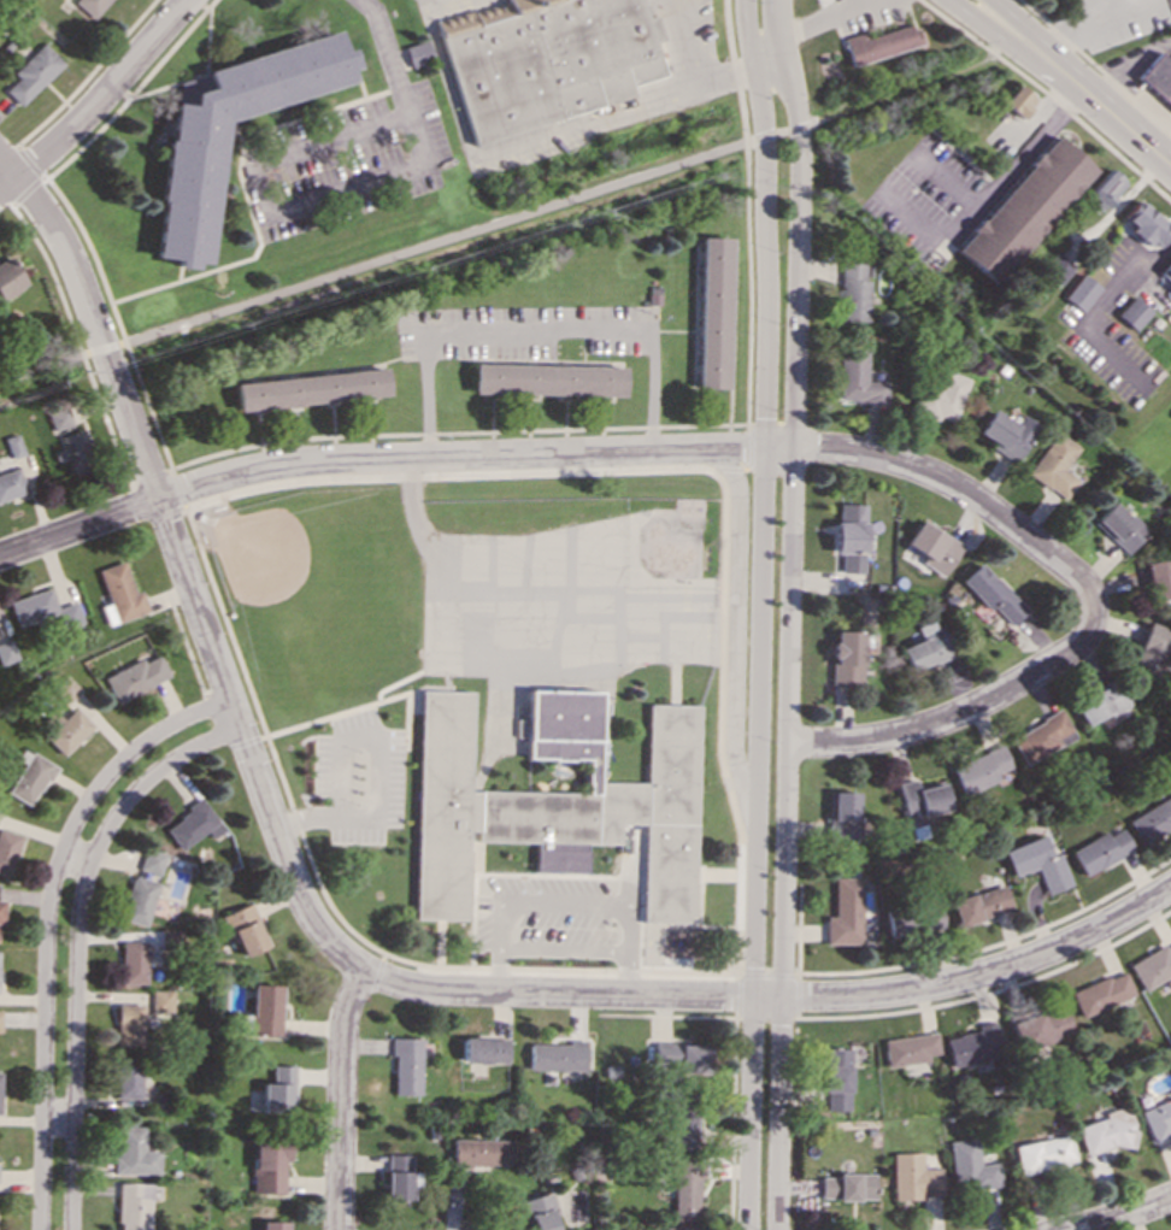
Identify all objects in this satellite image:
building: (89, 6)
park: (1037, 7)
road: (824, 18)
road: (1006, 20)
road: (983, 22)
road: (1064, 28)
building: (879, 43)
road: (390, 54)
building: (416, 54)
road: (769, 54)
building: (545, 59)
road: (1128, 65)
road: (1095, 66)
road: (735, 70)
building: (31, 72)
road: (684, 75)
building: (1158, 76)
road: (446, 77)
road: (912, 88)
road: (1048, 96)
road: (99, 100)
building: (1017, 101)
road: (1098, 104)
road: (583, 129)
road: (1001, 177)
building: (187, 188)
building: (1105, 188)
building: (1023, 210)
road: (69, 211)
road: (269, 211)
building: (1146, 224)
road: (399, 255)
building: (1167, 266)
building: (1054, 267)
building: (8, 277)
road: (748, 284)
building: (853, 290)
building: (1078, 292)
building: (712, 312)
road: (1093, 312)
building: (1130, 313)
road: (536, 329)
road: (75, 335)
building: (1170, 363)
building: (855, 378)
building: (546, 379)
building: (308, 389)
building: (940, 394)
building: (58, 418)
road: (453, 432)
building: (1006, 434)
building: (12, 446)
road: (749, 446)
building: (75, 452)
road: (571, 454)
building: (1054, 465)
road: (743, 466)
road: (726, 467)
road: (148, 476)
building: (10, 483)
road: (178, 507)
building: (1118, 526)
building: (848, 536)
building: (930, 547)
building: (1159, 577)
building: (118, 593)
building: (990, 593)
building: (42, 610)
road: (760, 613)
road: (790, 613)
road: (735, 626)
building: (924, 647)
building: (1151, 651)
building: (6, 652)
building: (845, 657)
building: (134, 677)
building: (64, 689)
building: (1101, 701)
road: (955, 716)
building: (66, 730)
building: (1041, 736)
road: (351, 737)
building: (978, 769)
building: (29, 778)
building: (554, 801)
building: (918, 801)
building: (842, 814)
building: (1151, 819)
building: (192, 824)
building: (7, 849)
building: (1098, 851)
building: (151, 860)
building: (1035, 863)
building: (139, 901)
road: (569, 901)
building: (978, 905)
building: (0, 907)
building: (843, 912)
building: (926, 918)
building: (892, 922)
road: (48, 923)
road: (798, 928)
building: (245, 930)
building: (170, 938)
road: (78, 942)
road: (989, 944)
road: (337, 948)
building: (134, 963)
building: (1151, 965)
road: (764, 975)
building: (1099, 993)
building: (160, 1000)
building: (265, 1010)
building: (0, 1019)
building: (128, 1024)
building: (1038, 1028)
building: (972, 1046)
building: (908, 1048)
building: (483, 1049)
building: (557, 1055)
building: (679, 1057)
building: (406, 1066)
building: (128, 1077)
building: (836, 1077)
building: (0, 1090)
building: (277, 1090)
road: (341, 1096)
building: (1158, 1119)
building: (682, 1122)
building: (1104, 1131)
building: (133, 1152)
building: (479, 1152)
building: (1042, 1154)
building: (269, 1164)
building: (970, 1166)
building: (399, 1176)
building: (912, 1177)
building: (847, 1185)
building: (685, 1187)
building: (134, 1206)
building: (540, 1211)
road: (1124, 1216)
building: (272, 1225)
building: (677, 1228)

